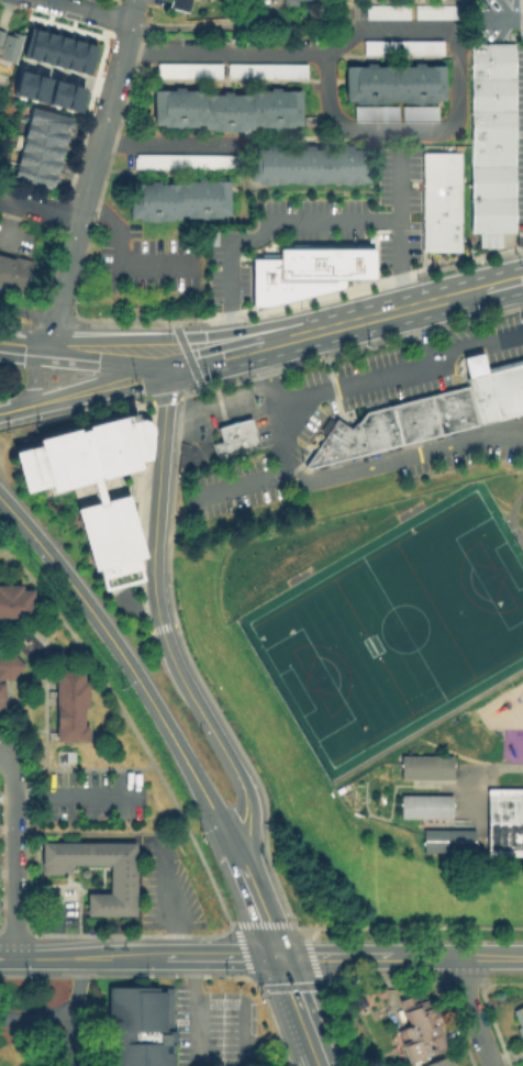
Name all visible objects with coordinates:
building: (202, 1)
building: (296, 3)
building: (180, 5)
building: (386, 10)
building: (435, 10)
road: (85, 11)
road: (133, 11)
road: (500, 16)
road: (209, 25)
building: (30, 43)
building: (400, 46)
building: (44, 47)
building: (9, 48)
building: (56, 51)
building: (69, 54)
building: (82, 57)
building: (490, 59)
building: (264, 70)
building: (186, 71)
road: (115, 75)
road: (66, 76)
building: (392, 81)
building: (21, 84)
building: (36, 88)
building: (490, 92)
building: (55, 93)
building: (71, 98)
building: (226, 107)
building: (374, 111)
building: (418, 111)
building: (52, 122)
building: (490, 125)
road: (372, 132)
building: (47, 136)
road: (166, 144)
building: (43, 151)
building: (490, 153)
building: (305, 164)
building: (38, 165)
building: (185, 165)
building: (439, 171)
road: (90, 174)
building: (34, 179)
building: (176, 198)
building: (489, 201)
road: (38, 209)
building: (439, 209)
road: (393, 230)
building: (439, 232)
road: (267, 233)
building: (439, 245)
road: (520, 255)
building: (361, 258)
road: (118, 259)
building: (318, 266)
building: (15, 275)
road: (503, 281)
road: (63, 282)
building: (270, 287)
road: (414, 304)
road: (25, 312)
road: (152, 320)
road: (56, 327)
road: (303, 331)
road: (192, 335)
traffic signals: (203, 335)
road: (414, 335)
road: (20, 341)
road: (314, 344)
road: (186, 354)
road: (212, 355)
road: (99, 359)
traffic signals: (163, 368)
road: (399, 370)
road: (33, 376)
road: (90, 386)
building: (494, 390)
road: (166, 398)
road: (216, 401)
road: (274, 407)
road: (10, 408)
building: (465, 409)
building: (446, 413)
building: (415, 421)
building: (387, 429)
building: (370, 433)
building: (236, 437)
road: (148, 438)
building: (358, 442)
building: (132, 445)
building: (332, 447)
road: (404, 459)
road: (243, 482)
road: (171, 497)
road: (155, 498)
building: (107, 511)
road: (15, 519)
road: (510, 519)
road: (186, 529)
building: (15, 606)
road: (160, 626)
park: (402, 636)
building: (9, 668)
road: (44, 682)
road: (136, 684)
road: (7, 691)
building: (1, 701)
building: (71, 709)
road: (21, 733)
road: (210, 733)
road: (138, 742)
road: (3, 754)
building: (424, 765)
road: (82, 770)
road: (78, 799)
building: (423, 804)
building: (505, 823)
building: (446, 839)
road: (13, 854)
building: (122, 886)
road: (251, 897)
road: (245, 924)
road: (277, 924)
road: (299, 939)
road: (7, 953)
road: (88, 954)
road: (220, 954)
traffic signals: (276, 954)
road: (331, 955)
road: (455, 955)
road: (212, 966)
road: (298, 1009)
road: (74, 1010)
road: (471, 1011)
road: (36, 1019)
road: (196, 1025)
building: (519, 1025)
building: (141, 1026)
building: (419, 1031)
building: (443, 1063)

